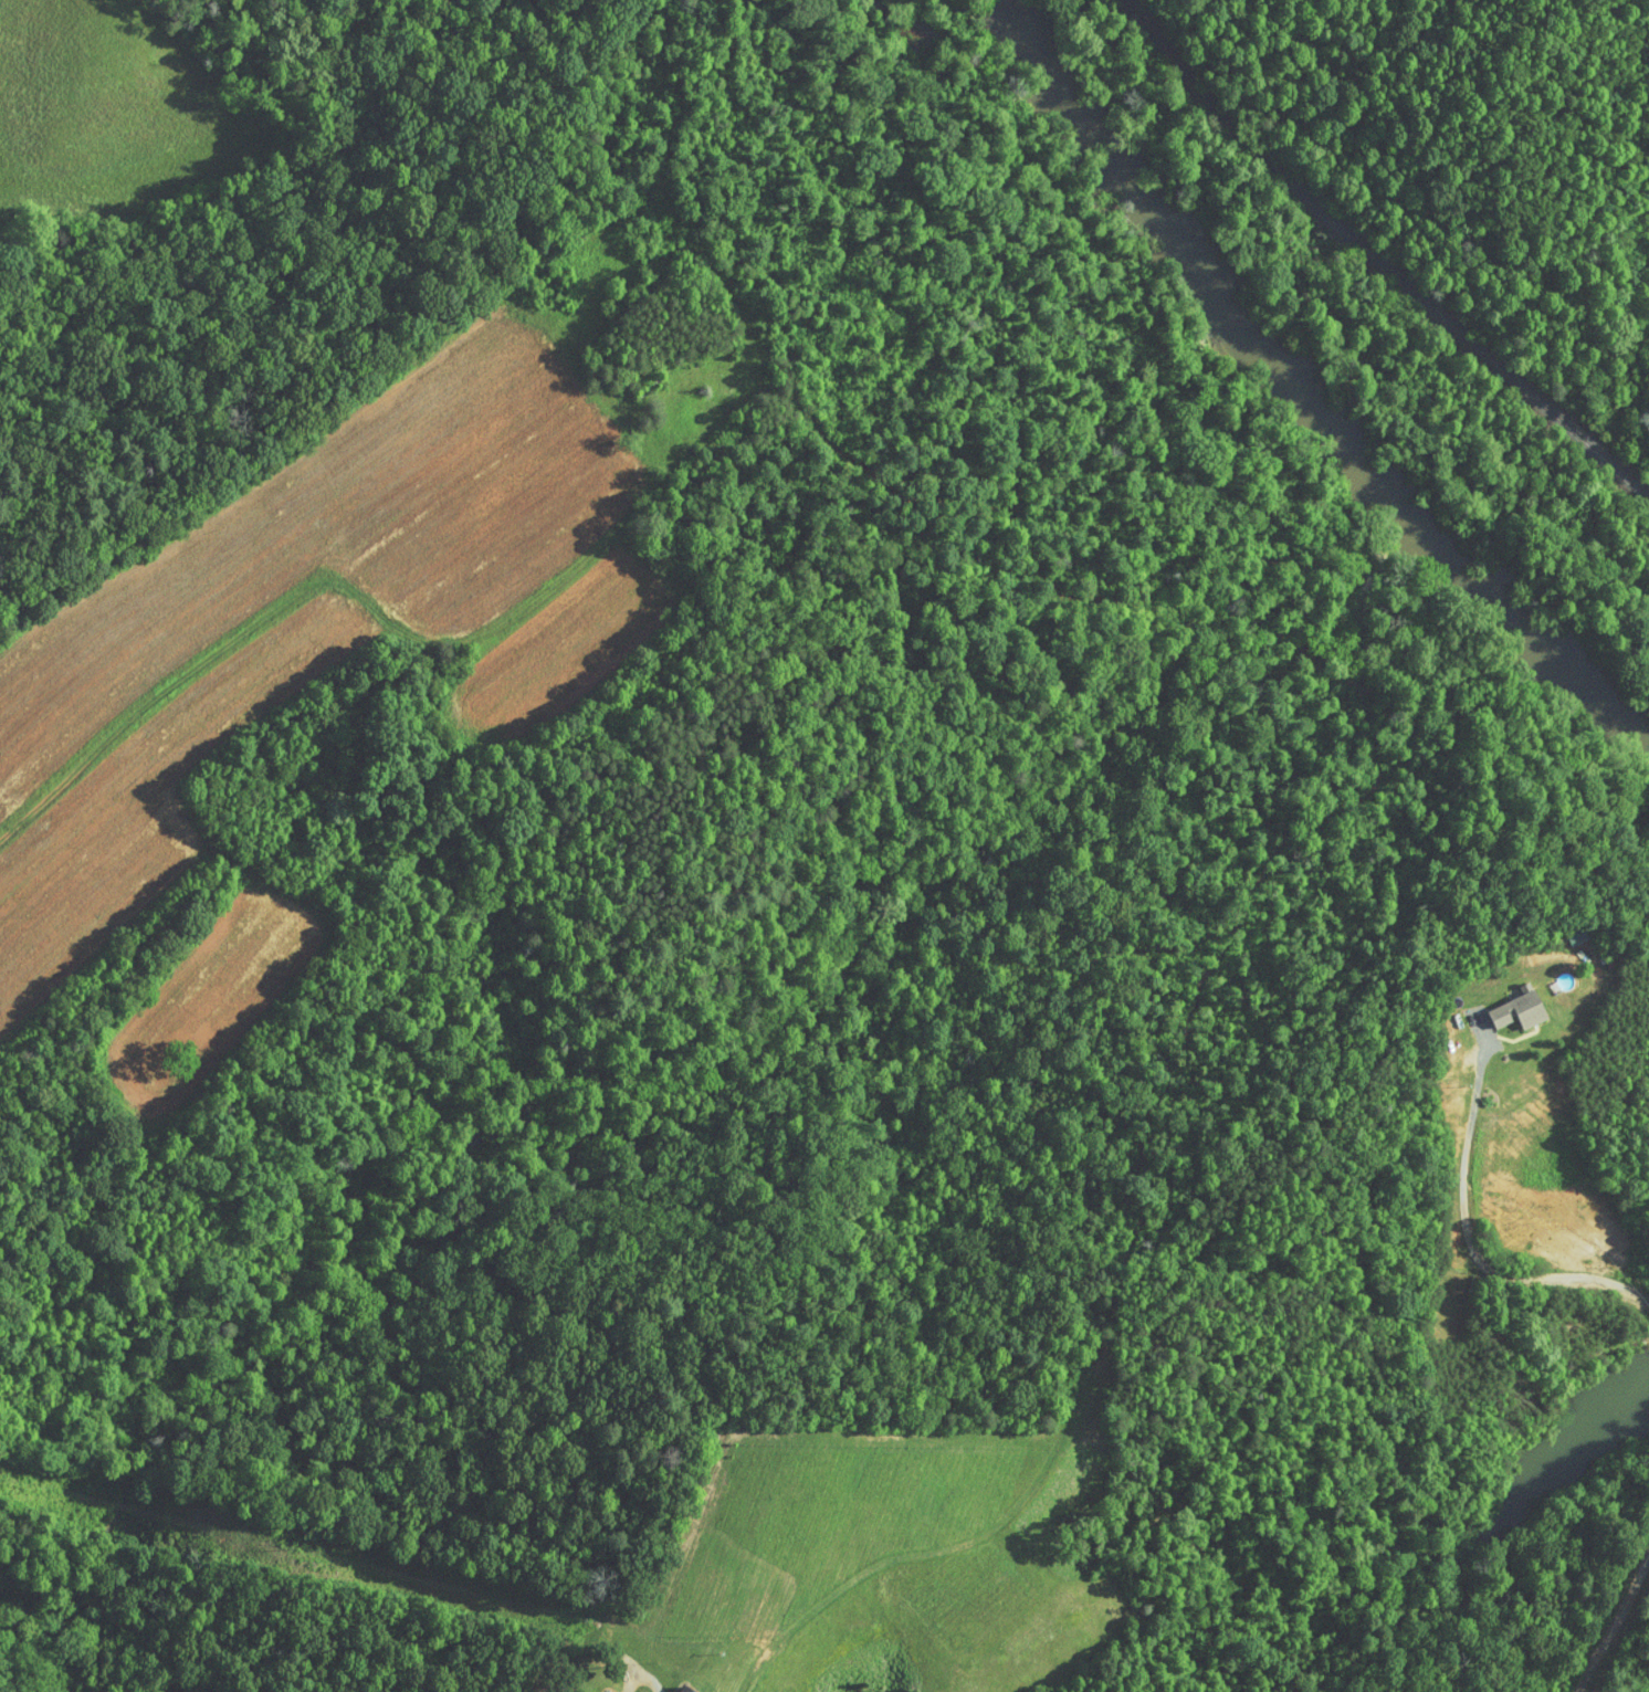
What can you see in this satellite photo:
railway: (1377, 261)
river: (1233, 312)
road: (332, 586)
river: (1567, 671)
building: (1562, 927)
building: (1501, 1005)
road: (1457, 1243)
road: (764, 1512)
road: (1604, 1604)
building: (669, 1686)
building: (606, 1690)

